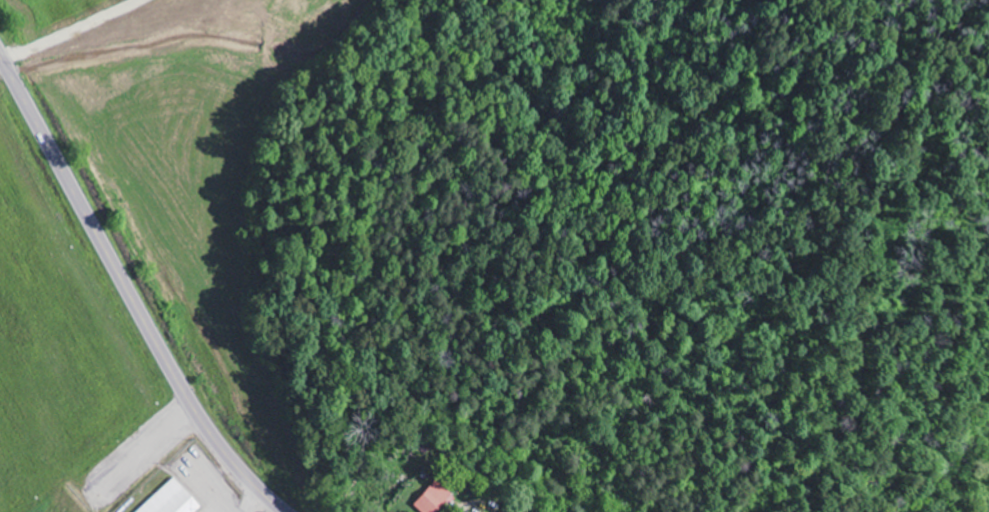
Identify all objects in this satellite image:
road: (140, 36)
road: (128, 294)
building: (139, 390)
building: (436, 499)
building: (174, 500)

